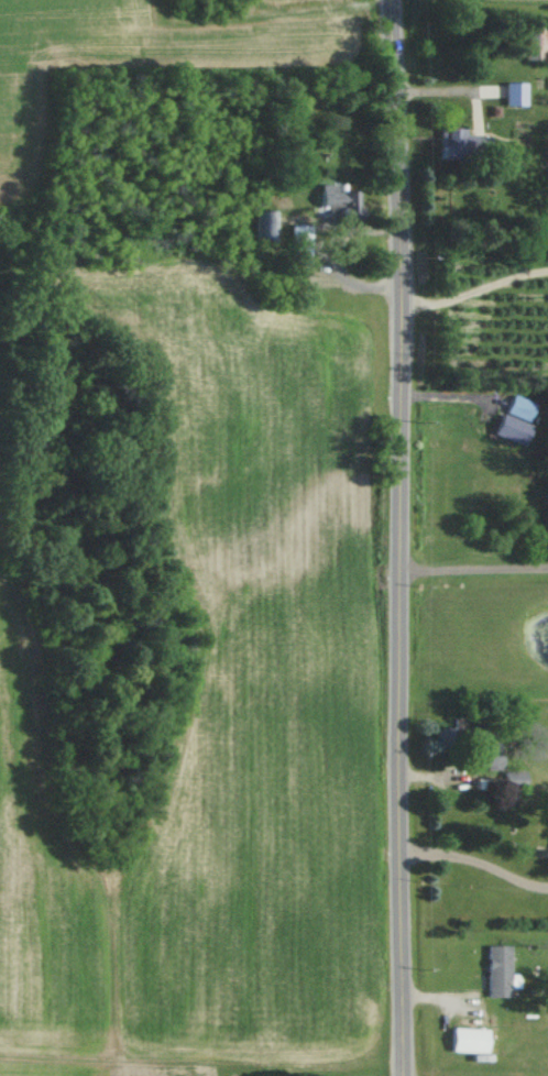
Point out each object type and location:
building: (515, 39)
building: (504, 96)
building: (452, 143)
building: (321, 194)
building: (252, 223)
building: (288, 245)
road: (321, 256)
road: (465, 292)
building: (502, 418)
road: (386, 538)
road: (468, 570)
building: (442, 736)
building: (480, 755)
building: (508, 779)
road: (471, 861)
building: (491, 970)
building: (460, 1039)

